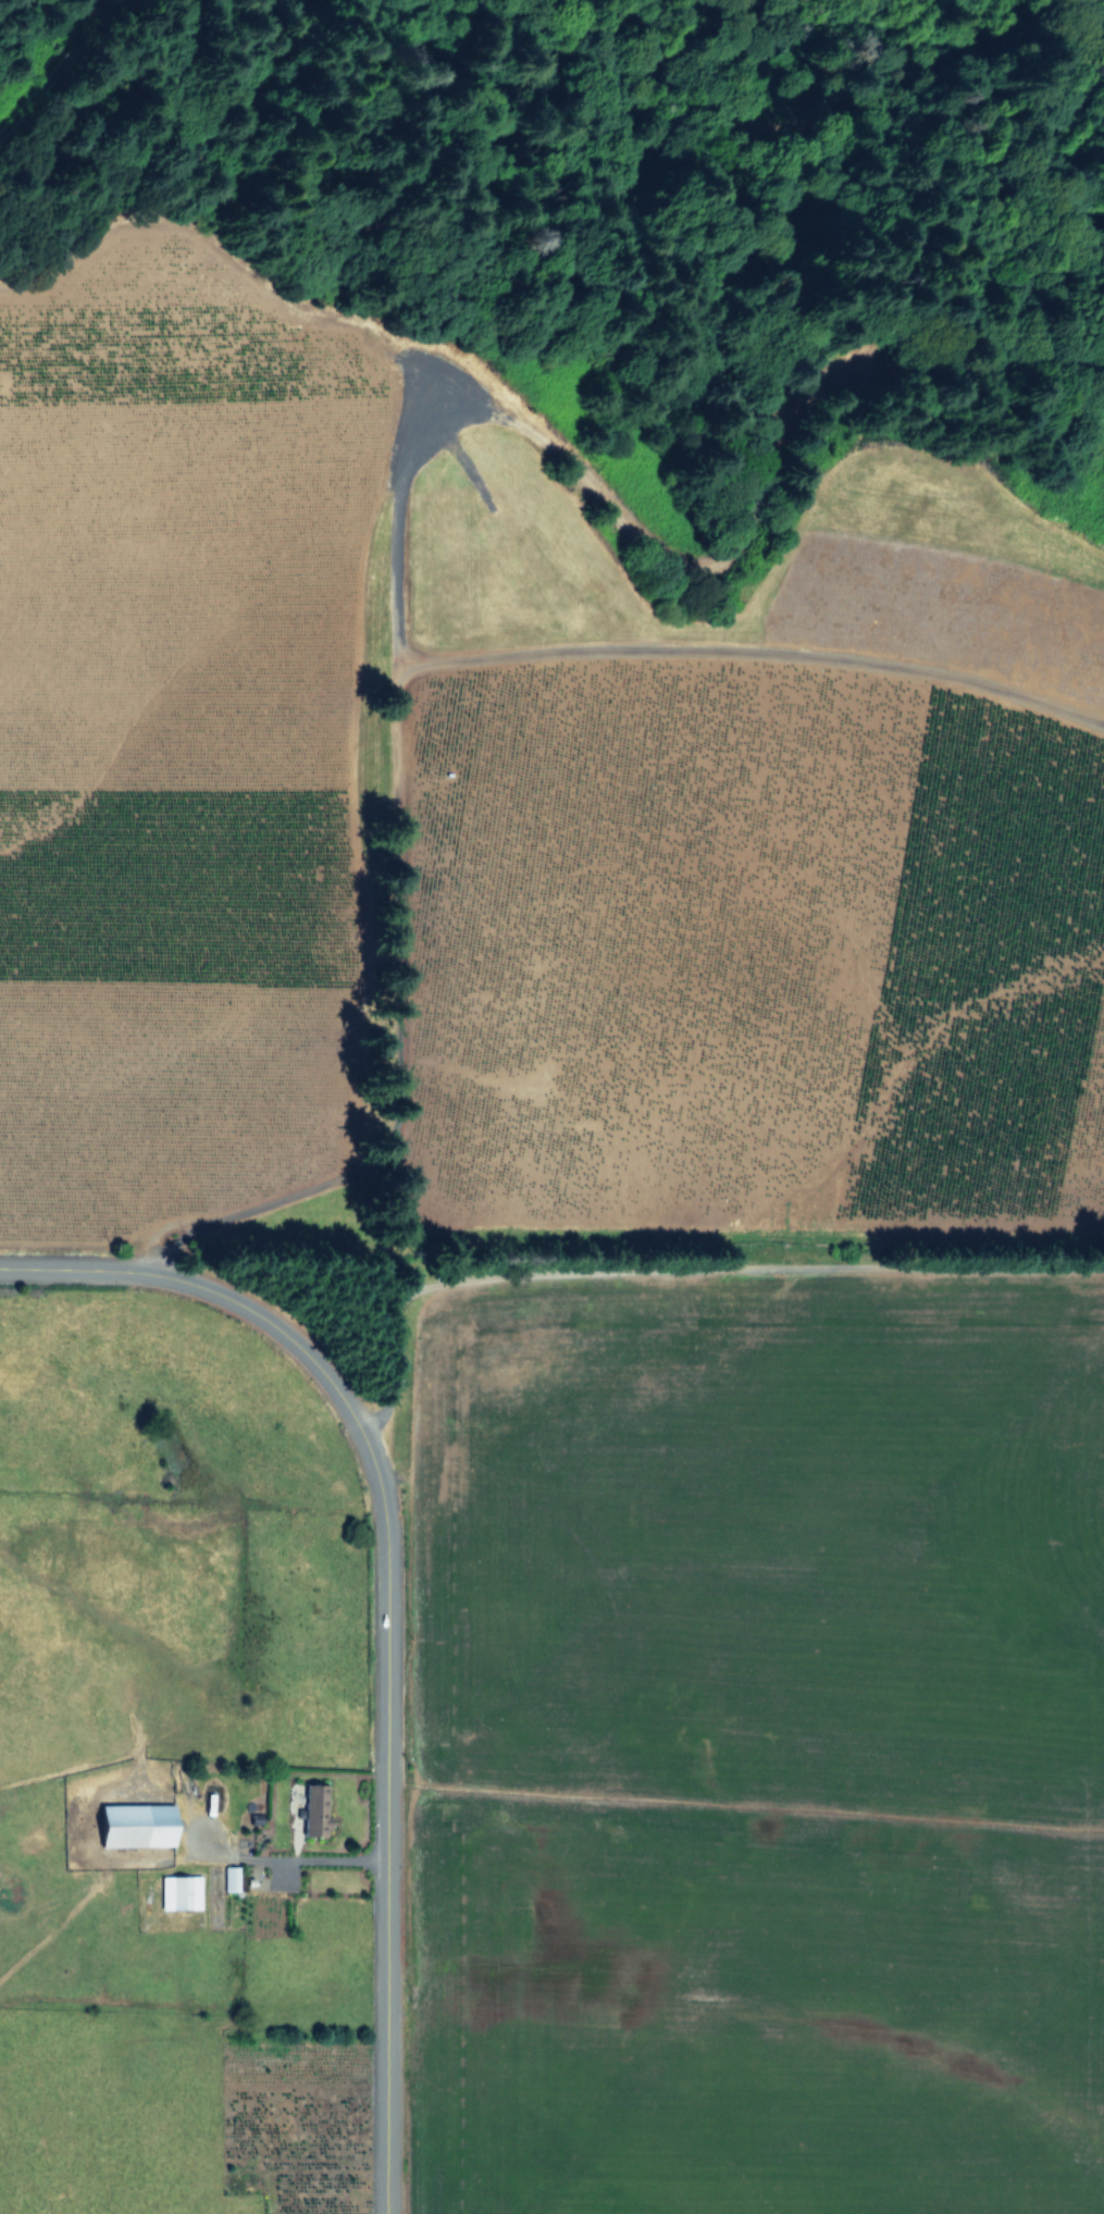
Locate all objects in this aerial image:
road: (815, 102)
road: (390, 512)
road: (748, 657)
crop: (489, 840)
road: (686, 1272)
road: (67, 1274)
road: (384, 1680)
crop: (158, 1776)
building: (314, 1808)
building: (136, 1825)
road: (290, 1858)
building: (230, 1878)
building: (179, 1891)

